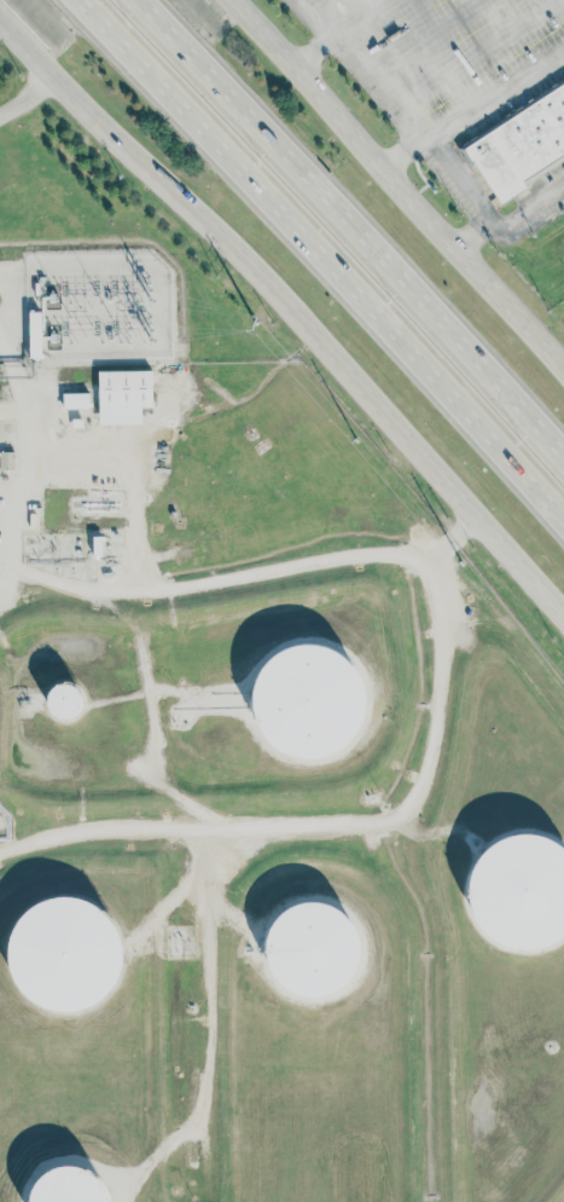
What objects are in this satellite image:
road: (563, 0)
road: (313, 1)
road: (556, 1)
parking lot: (303, 15)
road: (368, 16)
road: (429, 35)
parking lot: (447, 44)
road: (320, 47)
road: (478, 51)
road: (374, 71)
parking lot: (370, 89)
road: (29, 96)
parking lot: (516, 100)
road: (401, 102)
road: (475, 106)
road: (402, 109)
building: (519, 145)
parking lot: (550, 178)
road: (403, 183)
parking lot: (452, 185)
road: (510, 226)
road: (349, 229)
road: (321, 260)
road: (296, 300)
power substation: (97, 306)
building: (34, 335)
building: (123, 395)
building: (75, 400)
road: (14, 412)
building: (76, 423)
road: (80, 456)
building: (6, 461)
road: (13, 508)
building: (97, 547)
road: (284, 567)
road: (63, 584)
road: (194, 694)
building: (64, 700)
storage tank: (64, 700)
building: (307, 700)
storage tank: (307, 700)
road: (365, 822)
road: (426, 832)
road: (208, 885)
building: (519, 891)
storage tank: (519, 891)
road: (170, 901)
road: (233, 915)
road: (159, 931)
building: (312, 949)
storage tank: (312, 949)
building: (64, 953)
storage tank: (64, 953)
building: (69, 1186)
storage tank: (69, 1186)

